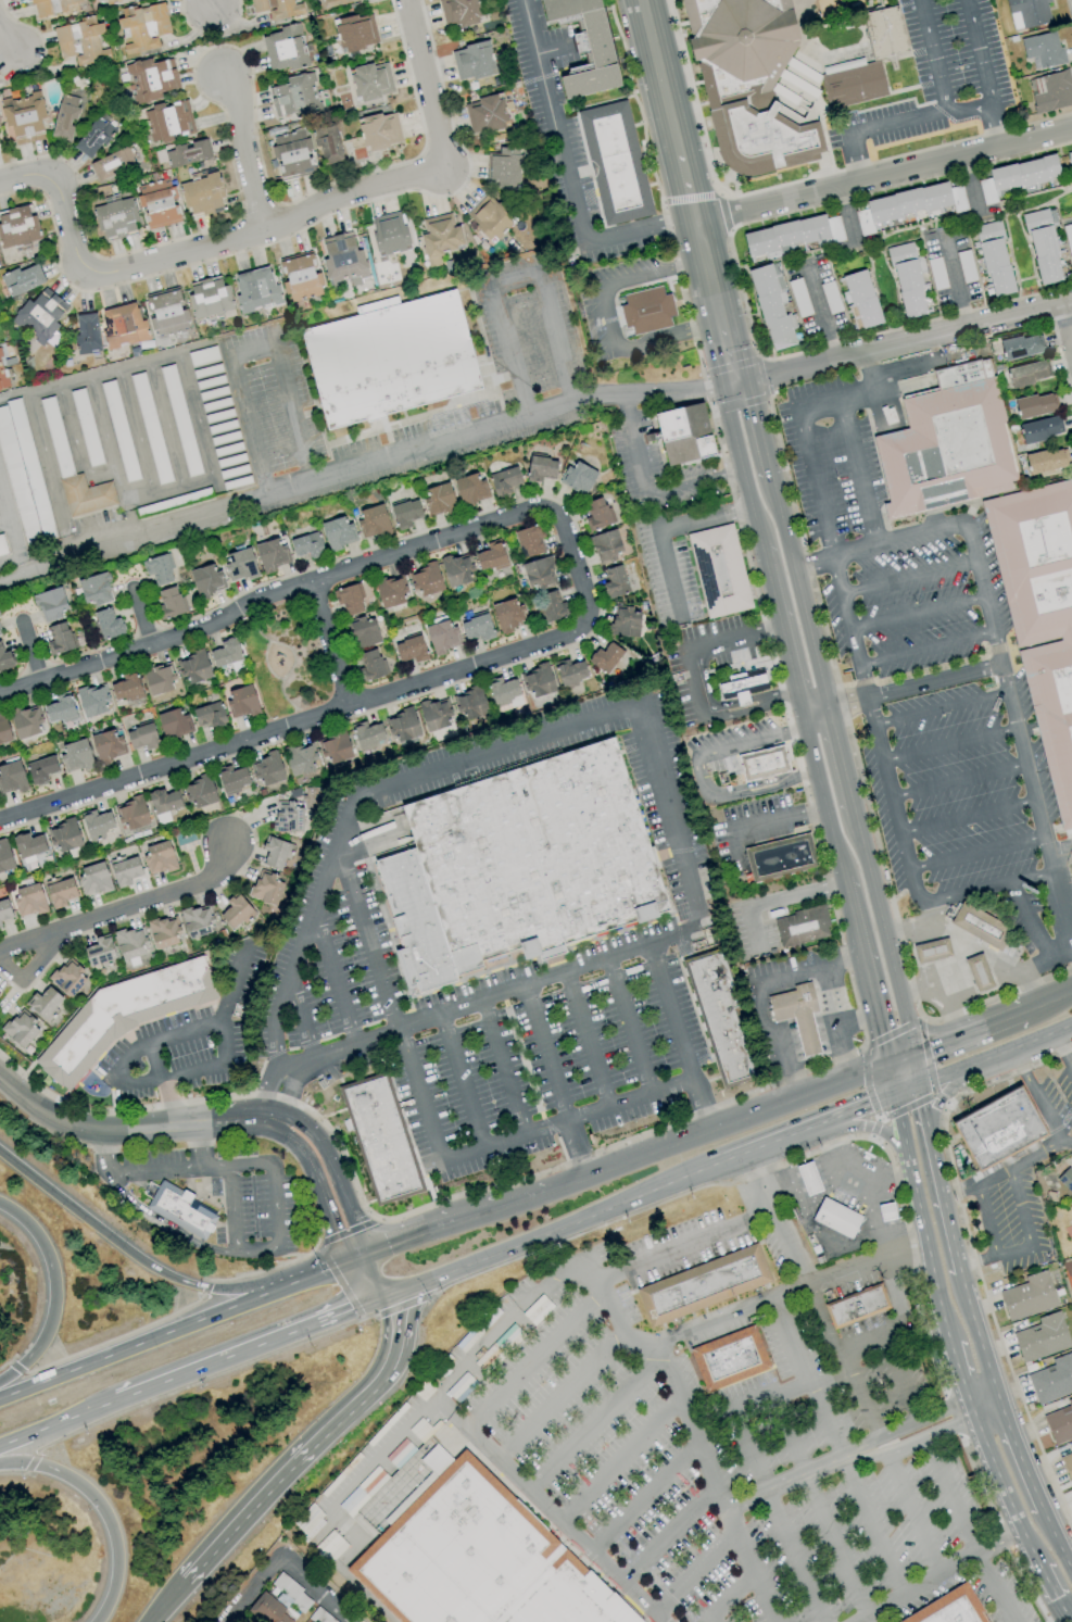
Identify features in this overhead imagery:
building: (106, 0)
building: (337, 2)
road: (205, 3)
building: (55, 7)
building: (277, 8)
building: (458, 13)
building: (1027, 13)
building: (143, 27)
building: (883, 32)
building: (355, 33)
building: (80, 41)
road: (8, 43)
building: (587, 46)
building: (285, 48)
building: (1042, 50)
road: (979, 52)
road: (932, 56)
building: (472, 61)
road: (659, 77)
building: (151, 78)
building: (371, 80)
building: (852, 81)
road: (426, 84)
building: (749, 84)
building: (1050, 91)
building: (293, 97)
road: (969, 110)
building: (485, 114)
building: (65, 116)
building: (24, 117)
building: (168, 122)
road: (996, 126)
building: (378, 130)
road: (874, 133)
building: (93, 138)
building: (327, 143)
building: (187, 153)
building: (291, 153)
road: (241, 154)
building: (1069, 158)
building: (614, 162)
building: (111, 163)
building: (505, 167)
road: (565, 172)
building: (1018, 176)
road: (883, 177)
road: (685, 191)
building: (201, 194)
building: (157, 203)
building: (115, 217)
building: (489, 218)
building: (17, 227)
building: (389, 234)
building: (791, 236)
building: (439, 238)
building: (1043, 246)
road: (190, 251)
building: (994, 259)
building: (343, 260)
road: (704, 263)
building: (301, 278)
building: (21, 279)
road: (515, 279)
building: (907, 280)
road: (951, 280)
building: (255, 289)
building: (209, 298)
building: (861, 299)
building: (772, 305)
building: (646, 310)
building: (166, 312)
road: (819, 312)
road: (608, 319)
building: (123, 325)
road: (1067, 327)
building: (87, 335)
road: (722, 342)
building: (1020, 347)
road: (249, 353)
building: (390, 360)
road: (869, 369)
road: (897, 373)
building: (1027, 373)
building: (2, 375)
road: (36, 388)
road: (13, 394)
road: (857, 395)
road: (816, 404)
building: (1035, 405)
road: (530, 416)
building: (1039, 429)
road: (758, 432)
building: (684, 433)
building: (55, 436)
building: (947, 443)
road: (736, 450)
building: (1046, 461)
building: (540, 468)
road: (857, 474)
building: (578, 477)
road: (694, 480)
building: (504, 481)
road: (812, 485)
building: (470, 489)
road: (774, 496)
building: (439, 499)
road: (651, 507)
building: (405, 513)
building: (596, 514)
road: (130, 518)
building: (373, 521)
road: (704, 521)
road: (8, 523)
road: (3, 524)
building: (337, 532)
building: (529, 540)
road: (900, 542)
building: (306, 545)
building: (605, 546)
building: (2, 548)
building: (272, 554)
road: (15, 556)
building: (490, 556)
building: (240, 565)
road: (812, 566)
building: (159, 569)
building: (456, 569)
building: (718, 570)
building: (538, 573)
road: (329, 578)
building: (426, 579)
road: (909, 579)
building: (206, 580)
building: (615, 581)
building: (94, 589)
building: (390, 591)
building: (349, 599)
building: (169, 603)
building: (50, 604)
building: (551, 606)
road: (803, 611)
road: (777, 612)
building: (507, 615)
road: (919, 615)
building: (1041, 615)
building: (626, 621)
building: (108, 624)
building: (477, 627)
building: (0, 630)
building: (364, 632)
building: (441, 637)
building: (60, 638)
road: (733, 640)
road: (332, 644)
road: (928, 649)
building: (409, 650)
road: (29, 652)
building: (226, 652)
building: (605, 658)
building: (5, 659)
building: (370, 665)
building: (193, 667)
building: (570, 671)
building: (159, 678)
building: (538, 680)
building: (741, 682)
road: (694, 687)
road: (916, 687)
building: (126, 688)
building: (503, 690)
building: (92, 700)
building: (241, 702)
building: (469, 703)
road: (749, 707)
building: (60, 709)
road: (943, 711)
building: (209, 715)
building: (434, 715)
road: (817, 719)
building: (25, 721)
building: (174, 722)
road: (293, 724)
building: (402, 725)
building: (3, 729)
road: (1020, 731)
road: (876, 732)
building: (367, 734)
building: (142, 737)
road: (951, 745)
building: (108, 746)
building: (335, 747)
building: (76, 755)
building: (300, 759)
building: (764, 764)
building: (41, 770)
building: (267, 770)
road: (702, 776)
road: (845, 777)
building: (11, 778)
road: (818, 778)
building: (232, 779)
road: (961, 781)
building: (200, 790)
road: (362, 796)
building: (163, 804)
building: (131, 814)
building: (288, 817)
road: (970, 818)
road: (780, 822)
building: (97, 823)
building: (65, 835)
building: (28, 845)
building: (275, 852)
building: (4, 856)
building: (779, 856)
road: (979, 856)
building: (159, 857)
road: (1062, 857)
road: (840, 864)
building: (519, 866)
building: (125, 871)
building: (93, 879)
road: (991, 888)
building: (60, 892)
building: (28, 900)
road: (777, 900)
building: (4, 909)
road: (124, 911)
building: (236, 911)
road: (930, 913)
road: (1026, 919)
building: (197, 921)
building: (0, 925)
building: (980, 925)
building: (803, 927)
building: (164, 932)
road: (973, 942)
building: (131, 943)
road: (653, 945)
road: (1060, 947)
road: (887, 948)
building: (931, 951)
building: (100, 952)
road: (1034, 961)
road: (950, 964)
road: (28, 968)
road: (866, 972)
building: (978, 972)
building: (67, 978)
road: (333, 979)
road: (754, 990)
road: (942, 999)
building: (43, 1003)
road: (1047, 1003)
road: (387, 1005)
road: (674, 1014)
building: (122, 1015)
building: (796, 1015)
gas station: (796, 1015)
building: (724, 1019)
road: (299, 1021)
road: (837, 1022)
road: (993, 1024)
road: (629, 1028)
building: (20, 1029)
road: (932, 1029)
road: (184, 1032)
traffic signals: (880, 1034)
road: (588, 1042)
road: (937, 1046)
road: (349, 1047)
road: (1062, 1049)
traffic signals: (928, 1051)
road: (995, 1055)
road: (544, 1056)
road: (899, 1060)
road: (1017, 1061)
road: (504, 1070)
road: (915, 1070)
road: (268, 1079)
road: (891, 1081)
road: (162, 1083)
road: (463, 1083)
road: (906, 1091)
road: (289, 1093)
road: (943, 1096)
road: (706, 1104)
traffic signals: (922, 1105)
traffic signals: (869, 1106)
road: (1042, 1108)
road: (857, 1109)
road: (567, 1121)
road: (718, 1128)
road: (875, 1129)
building: (1000, 1129)
road: (129, 1132)
road: (903, 1134)
building: (382, 1139)
road: (1065, 1142)
road: (765, 1145)
road: (199, 1146)
road: (882, 1146)
road: (576, 1149)
road: (110, 1156)
road: (1010, 1168)
road: (190, 1171)
road: (852, 1173)
road: (336, 1174)
road: (689, 1177)
building: (809, 1179)
gas station: (809, 1179)
road: (938, 1179)
road: (754, 1184)
building: (1068, 1184)
road: (318, 1190)
road: (823, 1192)
road: (950, 1193)
building: (1050, 1196)
road: (526, 1199)
road: (432, 1204)
road: (871, 1208)
building: (179, 1209)
building: (837, 1218)
road: (985, 1221)
road: (168, 1224)
road: (1024, 1225)
road: (348, 1232)
traffic signals: (336, 1233)
road: (820, 1234)
road: (425, 1236)
road: (318, 1243)
road: (517, 1246)
road: (679, 1248)
road: (789, 1248)
traffic signals: (389, 1250)
road: (972, 1252)
road: (255, 1253)
road: (129, 1256)
road: (929, 1257)
road: (985, 1258)
road: (967, 1261)
road: (273, 1269)
road: (317, 1277)
road: (381, 1277)
road: (338, 1283)
road: (360, 1285)
building: (704, 1285)
road: (205, 1287)
road: (787, 1293)
road: (52, 1295)
building: (1030, 1296)
road: (404, 1303)
building: (857, 1306)
traffic signals: (353, 1312)
traffic signals: (391, 1313)
road: (882, 1334)
road: (979, 1335)
road: (114, 1337)
building: (1043, 1337)
road: (829, 1341)
road: (142, 1345)
building: (730, 1358)
road: (223, 1360)
road: (532, 1360)
road: (4, 1362)
road: (14, 1369)
road: (959, 1375)
road: (832, 1376)
road: (204, 1380)
building: (1052, 1380)
road: (562, 1392)
road: (860, 1394)
road: (753, 1400)
road: (985, 1404)
road: (915, 1421)
road: (595, 1422)
building: (1060, 1424)
road: (698, 1428)
road: (38, 1430)
road: (922, 1438)
road: (398, 1439)
road: (841, 1447)
road: (620, 1454)
road: (1020, 1455)
road: (30, 1463)
building: (1068, 1464)
road: (290, 1466)
road: (16, 1475)
road: (796, 1479)
road: (1005, 1488)
road: (646, 1493)
road: (550, 1509)
road: (100, 1512)
road: (913, 1512)
road: (824, 1519)
road: (781, 1526)
road: (967, 1531)
road: (671, 1532)
road: (1056, 1542)
road: (288, 1555)
building: (476, 1557)
road: (696, 1571)
road: (919, 1586)
road: (1054, 1592)
road: (731, 1597)
building: (279, 1602)
building: (951, 1608)
road: (1070, 1614)
road: (1069, 1619)
road: (711, 1620)

